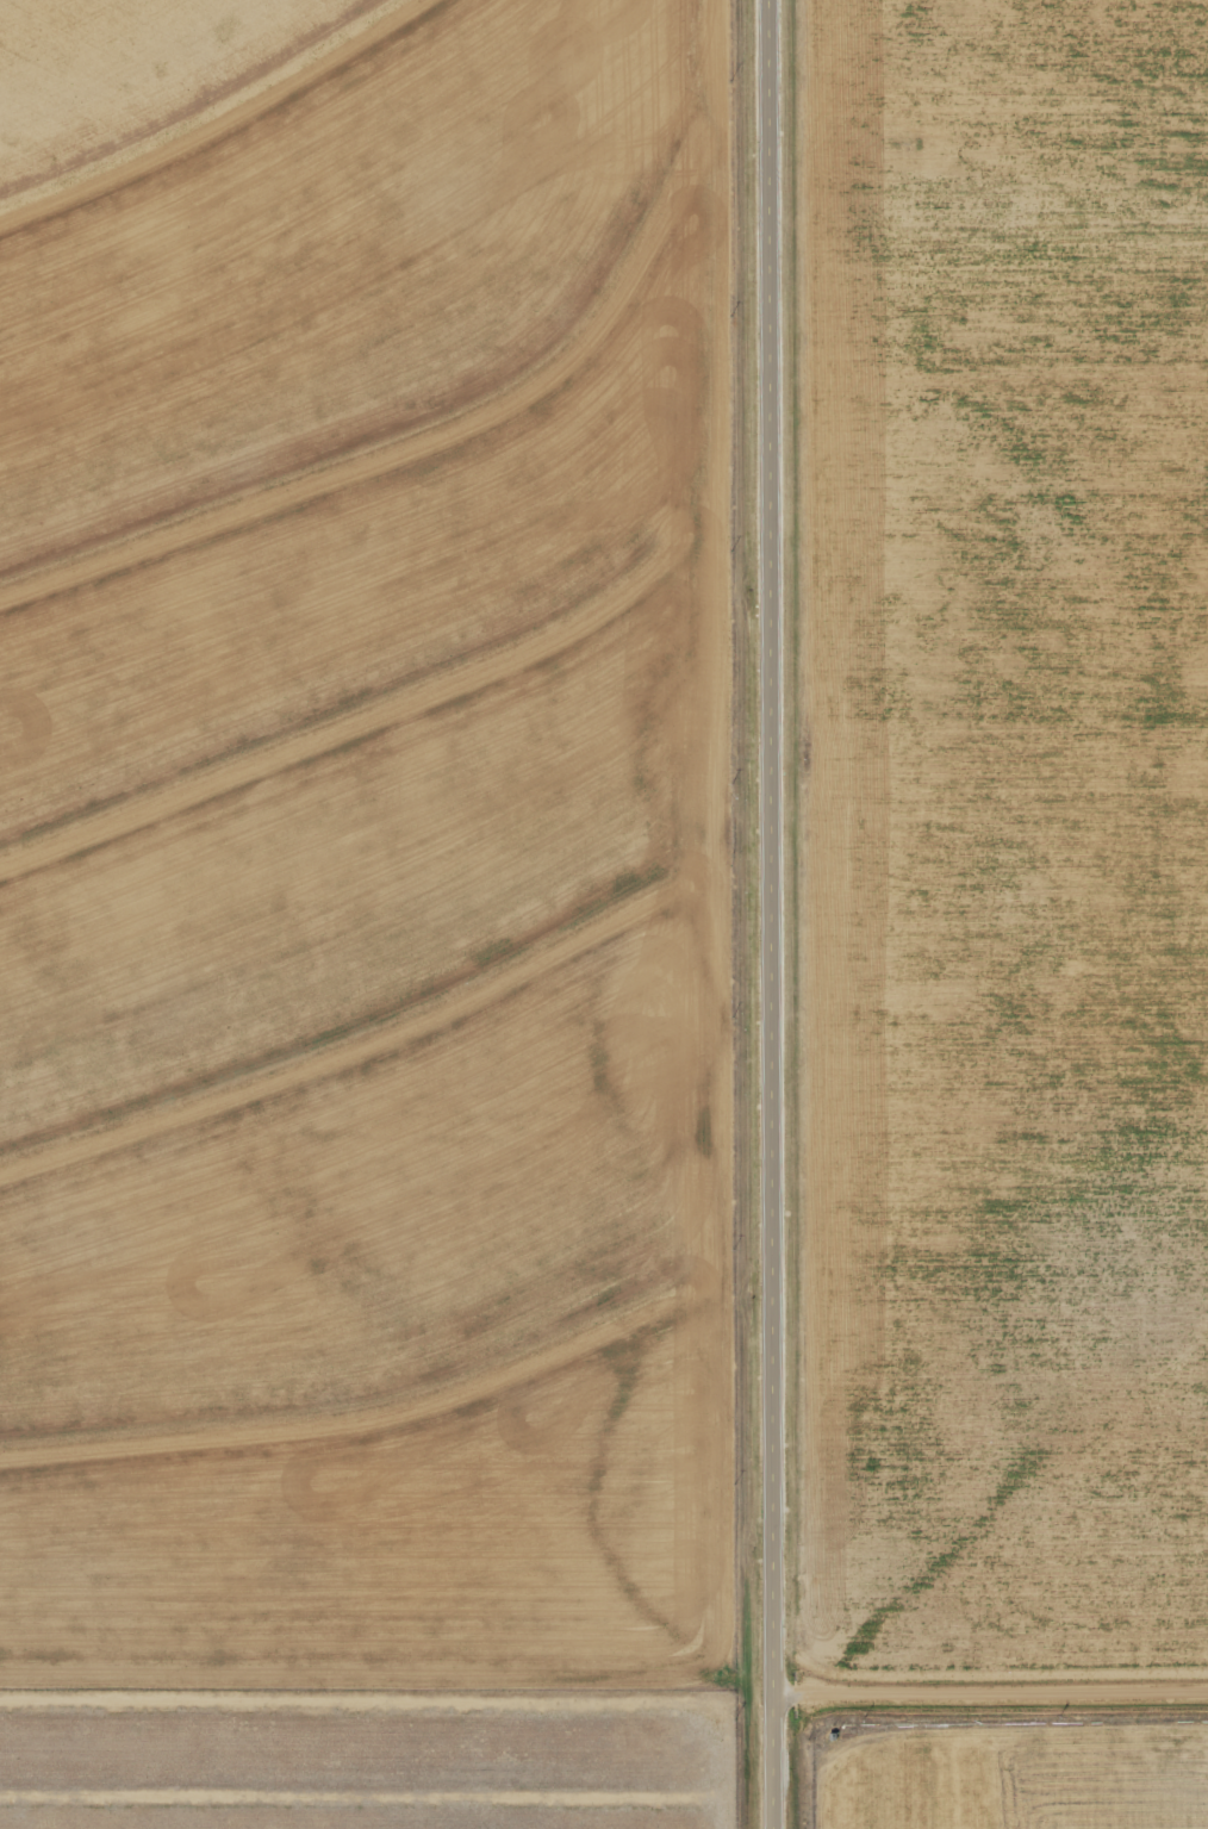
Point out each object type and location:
road: (770, 914)
road: (990, 1706)

